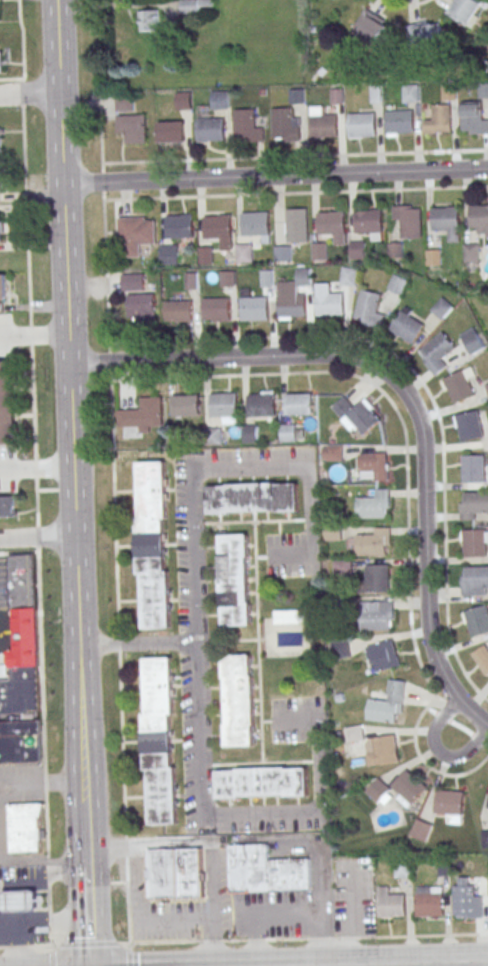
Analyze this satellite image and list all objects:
building: (196, 7)
building: (465, 10)
building: (149, 20)
building: (373, 28)
building: (428, 33)
road: (22, 50)
building: (1, 62)
building: (483, 90)
building: (449, 92)
road: (29, 93)
building: (410, 93)
building: (297, 96)
building: (336, 96)
building: (183, 100)
building: (220, 100)
building: (125, 102)
building: (439, 119)
building: (473, 119)
building: (398, 121)
building: (321, 122)
building: (285, 124)
building: (361, 124)
building: (247, 126)
building: (132, 127)
building: (210, 129)
building: (171, 131)
building: (0, 139)
road: (274, 176)
road: (102, 180)
building: (1, 186)
building: (479, 216)
building: (445, 218)
building: (407, 219)
building: (255, 222)
building: (369, 222)
building: (331, 223)
building: (296, 224)
building: (180, 226)
building: (218, 227)
building: (1, 228)
building: (137, 233)
road: (63, 244)
building: (395, 249)
building: (357, 250)
building: (319, 251)
building: (244, 252)
building: (471, 252)
building: (169, 253)
building: (282, 253)
building: (205, 255)
building: (433, 257)
building: (304, 276)
building: (348, 276)
building: (266, 277)
building: (227, 278)
building: (132, 281)
building: (397, 284)
building: (2, 285)
building: (330, 304)
building: (292, 305)
building: (141, 307)
building: (255, 308)
building: (368, 308)
building: (441, 308)
building: (217, 309)
building: (179, 311)
building: (408, 325)
building: (472, 340)
building: (437, 353)
building: (460, 385)
building: (487, 388)
road: (407, 396)
building: (224, 404)
building: (299, 404)
building: (7, 405)
building: (262, 405)
building: (186, 406)
building: (143, 414)
building: (356, 414)
building: (469, 425)
building: (287, 432)
building: (249, 433)
building: (213, 436)
building: (331, 453)
building: (373, 466)
building: (473, 468)
road: (36, 469)
building: (252, 498)
building: (374, 505)
building: (473, 505)
building: (7, 506)
road: (193, 516)
road: (37, 528)
building: (332, 532)
road: (37, 538)
building: (374, 542)
building: (475, 542)
building: (153, 545)
building: (377, 577)
building: (235, 580)
building: (474, 580)
building: (22, 583)
building: (377, 615)
building: (288, 616)
building: (477, 620)
building: (340, 649)
building: (382, 655)
road: (39, 656)
building: (483, 656)
road: (79, 677)
building: (20, 691)
building: (239, 700)
building: (388, 703)
road: (40, 716)
building: (354, 733)
building: (20, 741)
building: (159, 741)
building: (382, 750)
road: (438, 750)
building: (262, 782)
road: (41, 784)
building: (398, 788)
building: (450, 805)
road: (222, 813)
building: (25, 827)
building: (421, 829)
building: (485, 838)
road: (188, 842)
road: (42, 859)
building: (403, 868)
building: (266, 870)
road: (86, 873)
building: (175, 874)
building: (465, 899)
building: (429, 901)
building: (20, 902)
building: (391, 903)
road: (88, 922)
road: (138, 922)
road: (243, 940)
road: (217, 943)
road: (130, 954)

